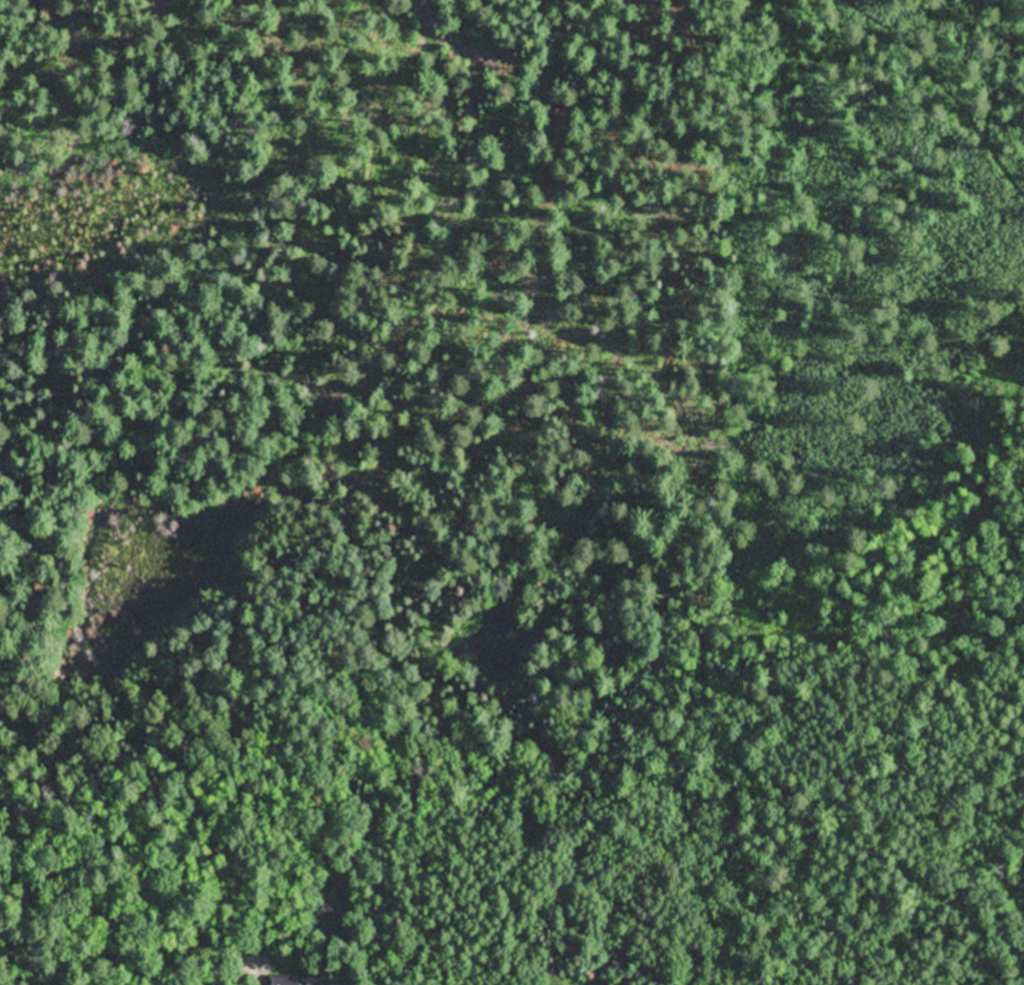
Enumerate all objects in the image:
building: (291, 980)

